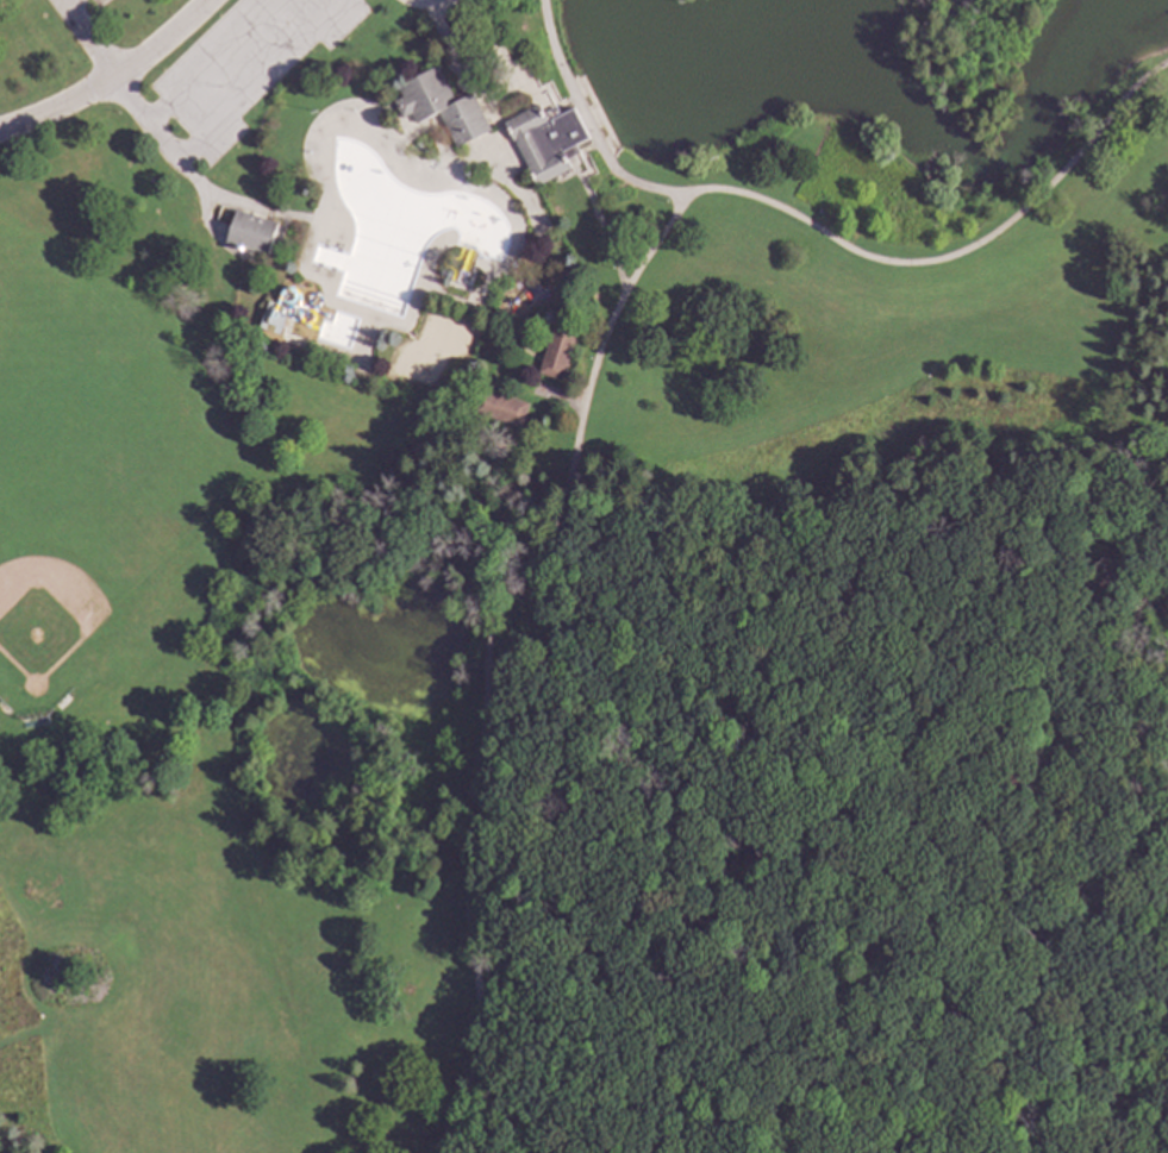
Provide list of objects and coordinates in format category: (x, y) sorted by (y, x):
road: (63, 1)
road: (419, 8)
parking lot: (75, 11)
road: (88, 40)
road: (212, 61)
parking lot: (238, 71)
road: (258, 79)
road: (114, 82)
road: (482, 93)
road: (543, 93)
road: (539, 101)
building: (441, 106)
road: (493, 112)
building: (548, 143)
building: (418, 149)
road: (575, 167)
road: (570, 177)
road: (195, 178)
road: (595, 209)
road: (207, 219)
water park: (407, 223)
building: (249, 231)
road: (829, 238)
road: (518, 277)
building: (466, 280)
road: (477, 297)
building: (279, 326)
road: (512, 343)
park: (435, 351)
building: (555, 351)
road: (562, 396)
building: (499, 408)
building: (494, 450)
park: (82, 564)
park: (583, 576)
road: (488, 653)
road: (629, 681)
road: (883, 748)
road: (1108, 763)
road: (1047, 842)
road: (763, 853)
road: (529, 966)
road: (577, 1051)
road: (1061, 1104)

